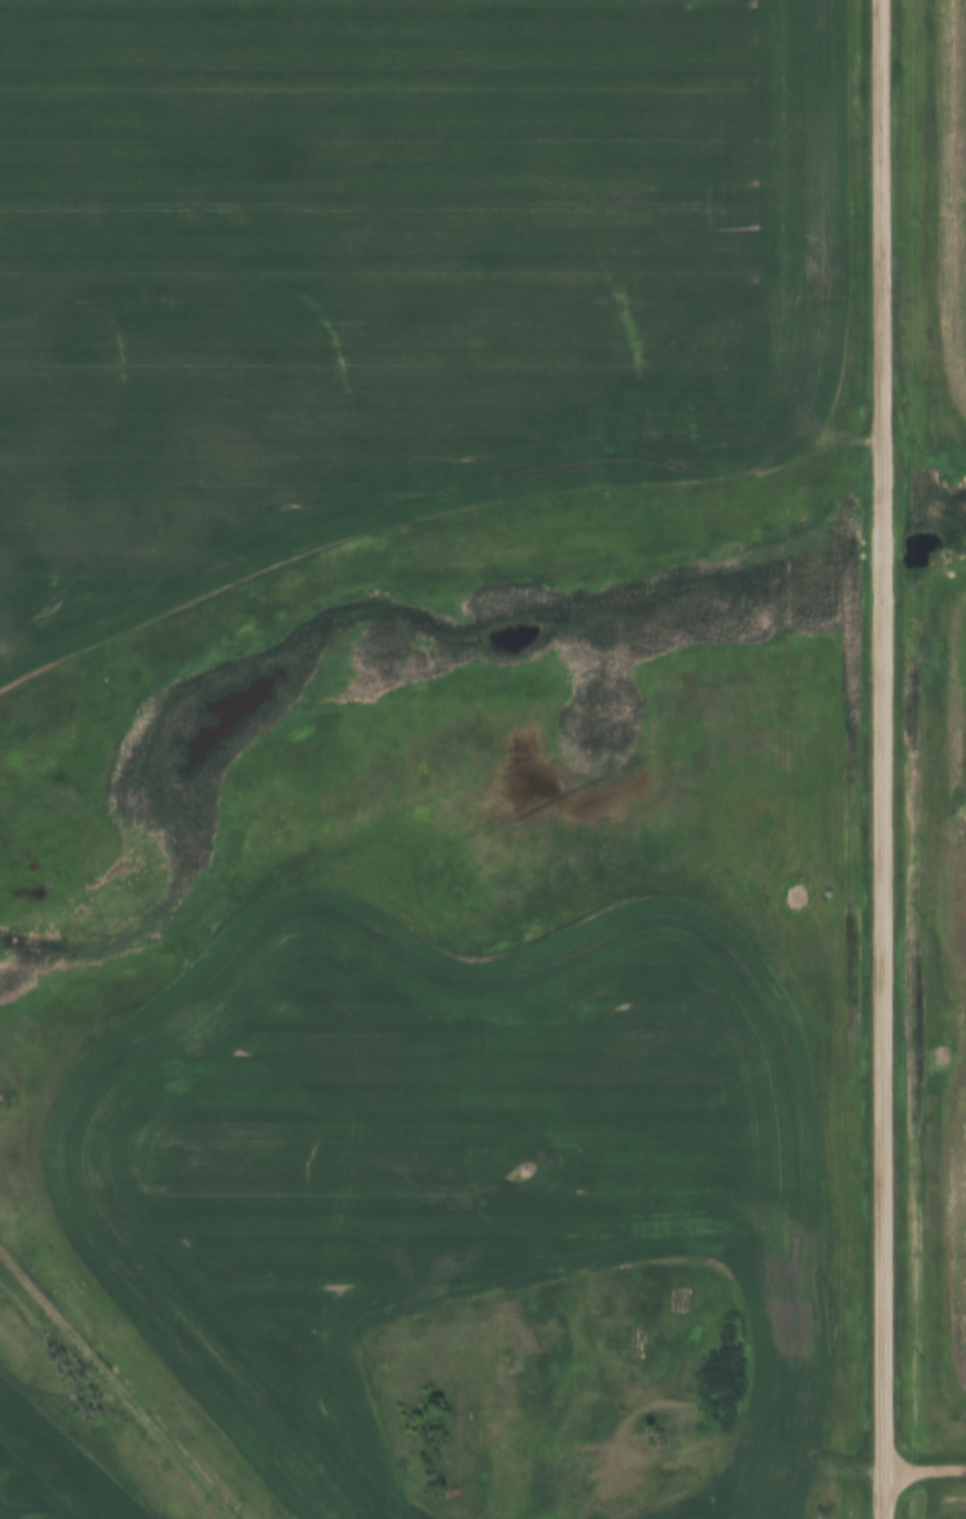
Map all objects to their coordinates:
road: (882, 759)
road: (924, 1465)

